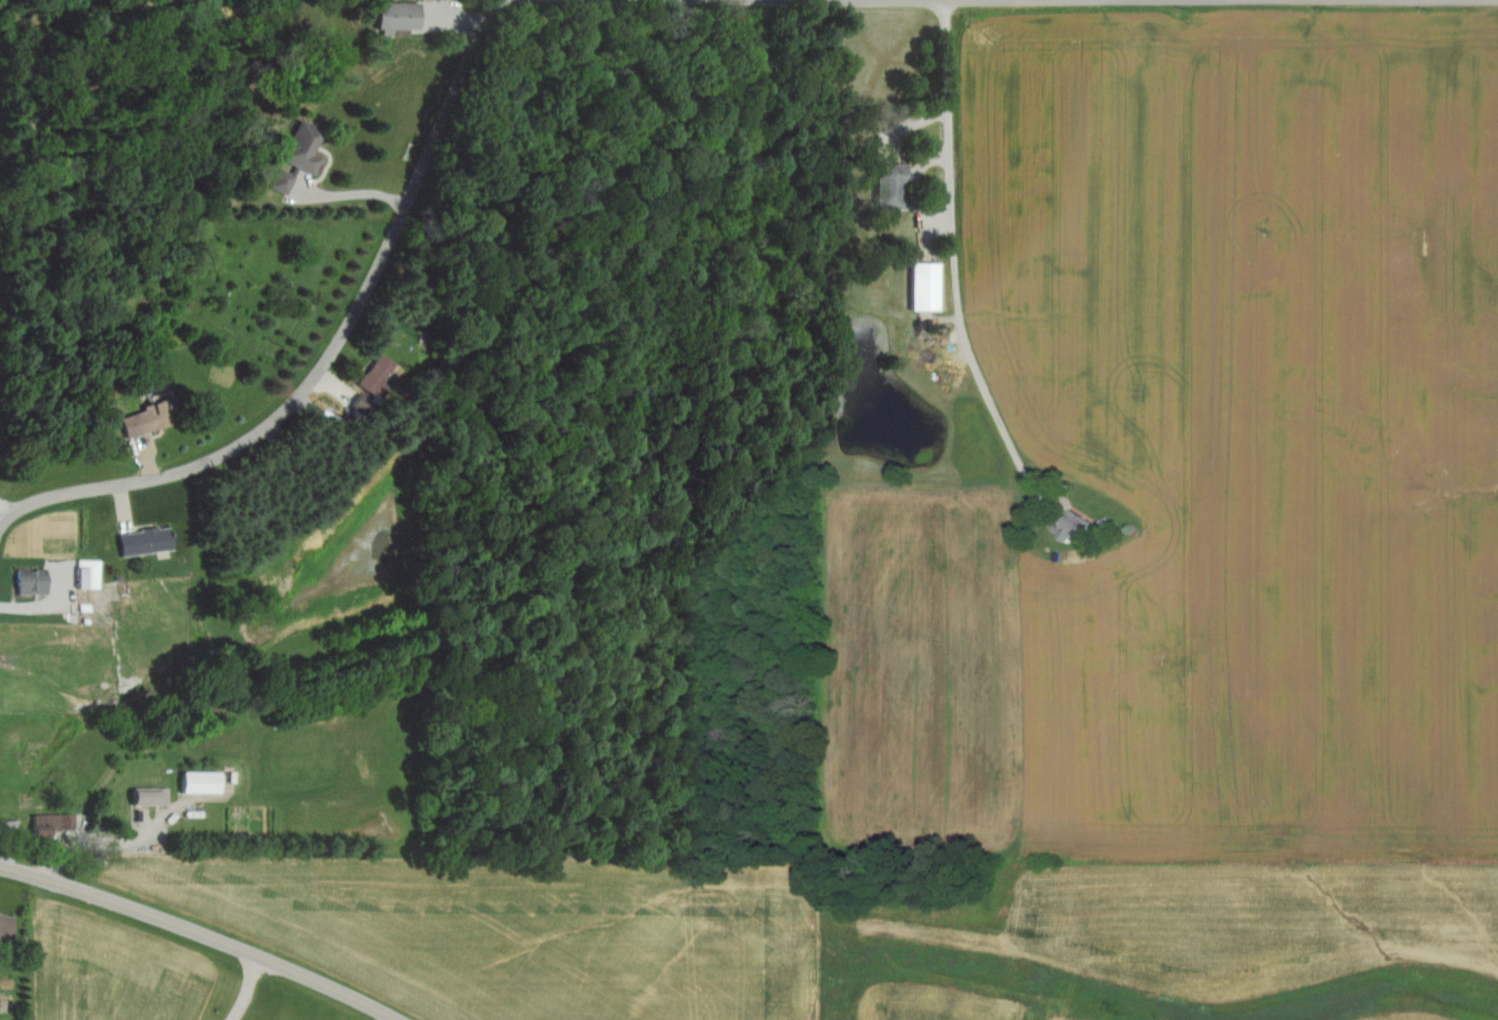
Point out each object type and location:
road: (869, 0)
building: (398, 15)
building: (300, 157)
building: (892, 187)
road: (356, 191)
road: (955, 263)
building: (926, 287)
road: (332, 353)
building: (378, 378)
building: (161, 415)
road: (0, 522)
building: (1073, 528)
building: (148, 542)
building: (89, 575)
building: (33, 582)
building: (201, 784)
building: (151, 797)
building: (10, 826)
road: (796, 837)
road: (874, 877)
building: (6, 930)
road: (201, 934)
road: (245, 989)

